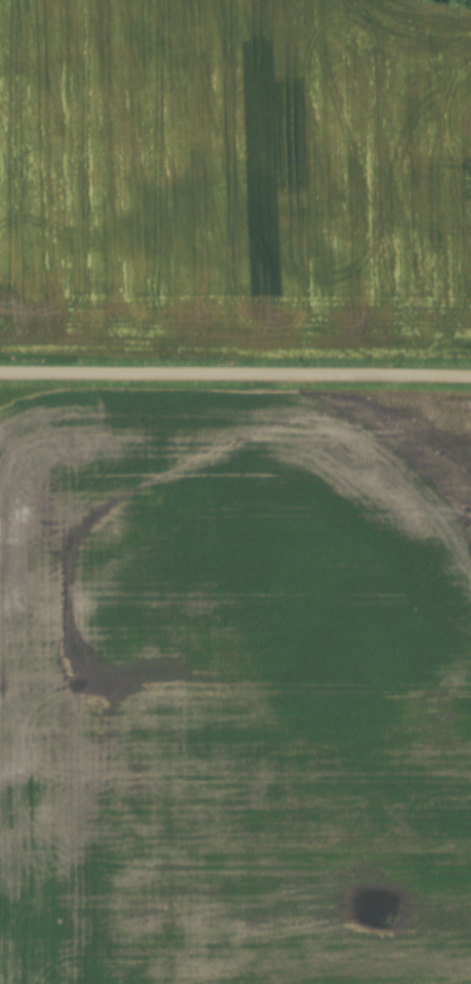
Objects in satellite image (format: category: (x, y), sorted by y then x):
road: (235, 373)

